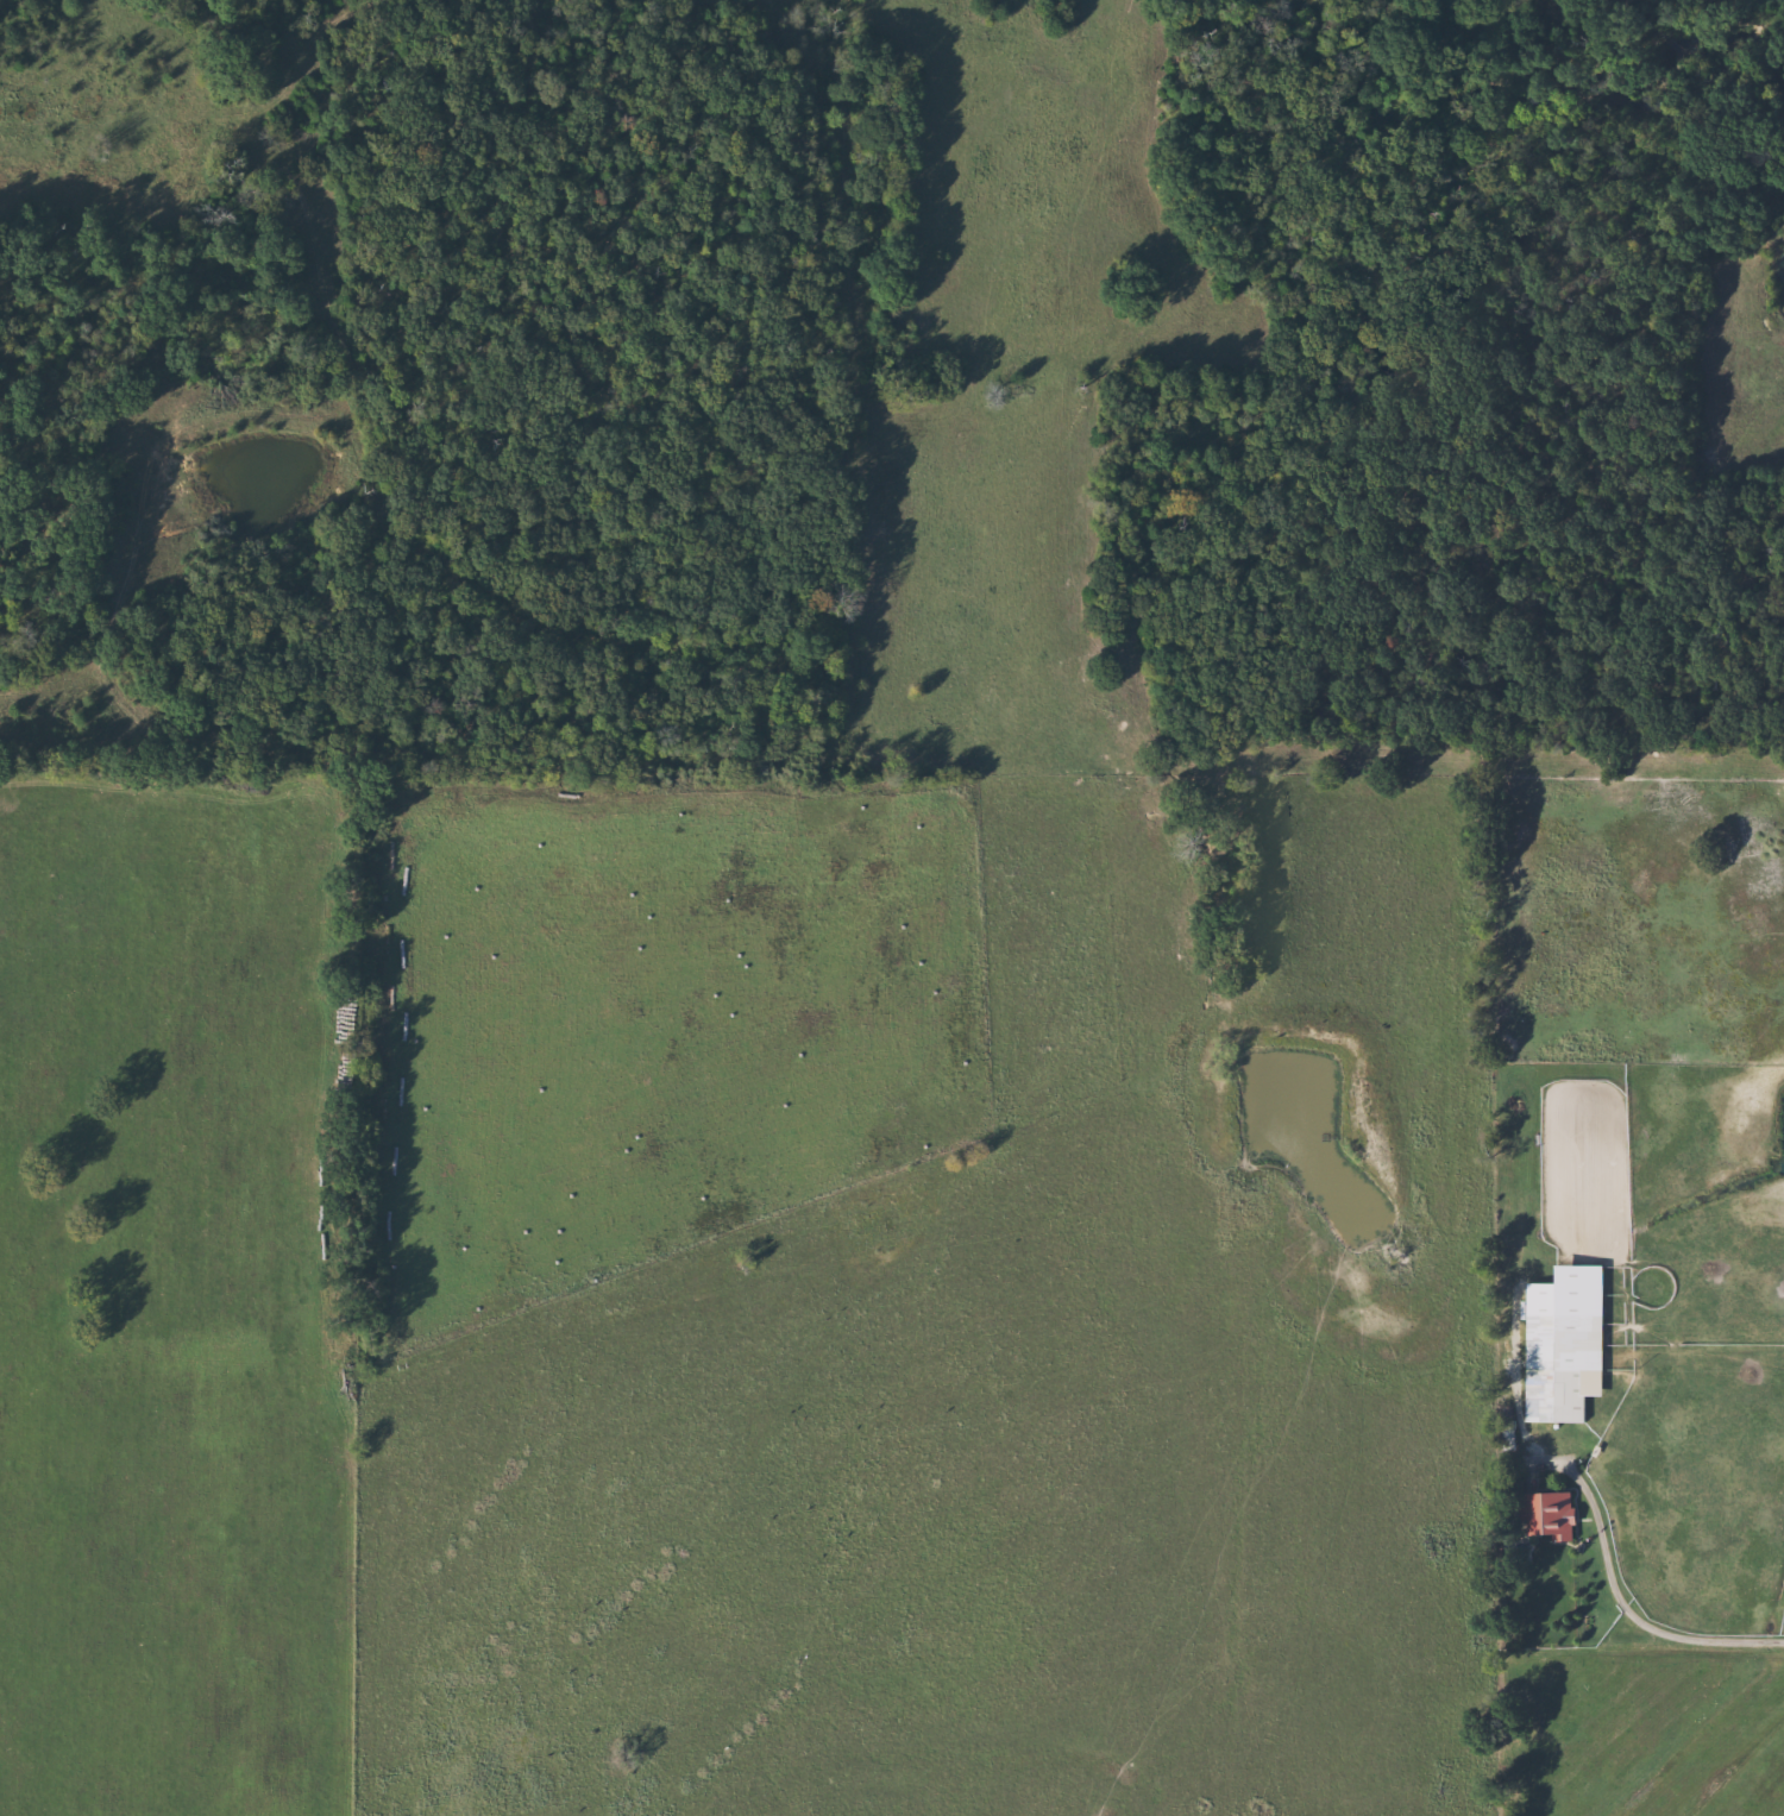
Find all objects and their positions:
building: (1554, 1364)
building: (1543, 1514)
road: (1637, 1603)

